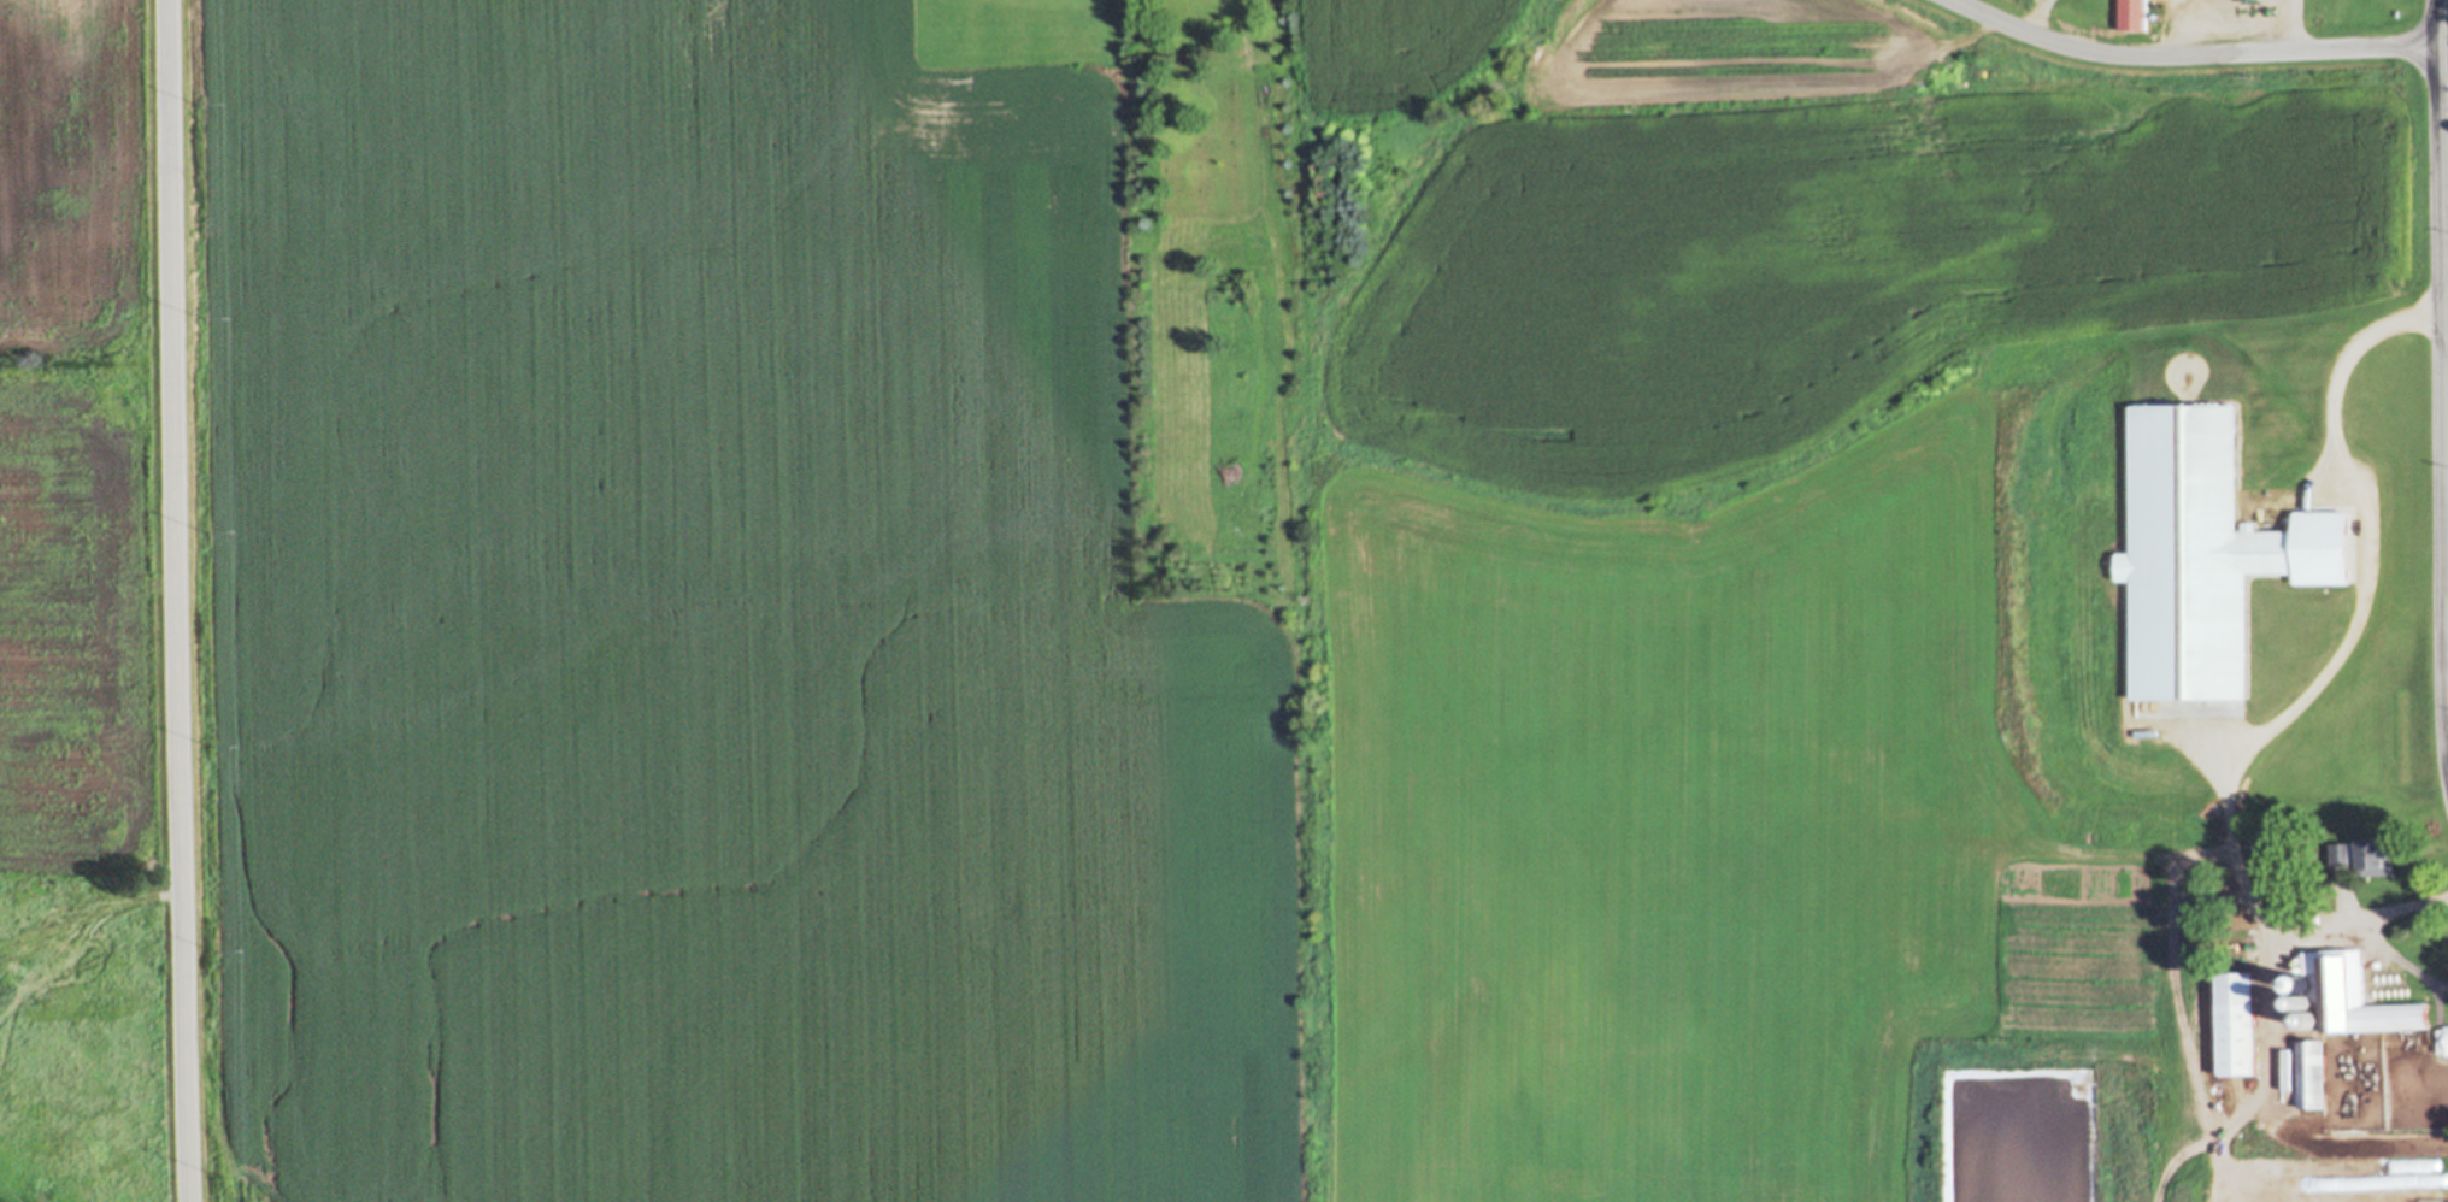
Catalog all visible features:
building: (2134, 13)
road: (2289, 25)
road: (2188, 57)
road: (2440, 369)
road: (178, 601)
road: (2309, 690)
building: (2268, 849)
building: (2366, 854)
building: (2218, 897)
building: (2311, 917)
building: (2350, 994)
building: (2309, 1017)
building: (2238, 1023)
building: (2443, 1038)
road: (2270, 1073)
building: (2313, 1073)
building: (2290, 1104)
building: (2255, 1124)

